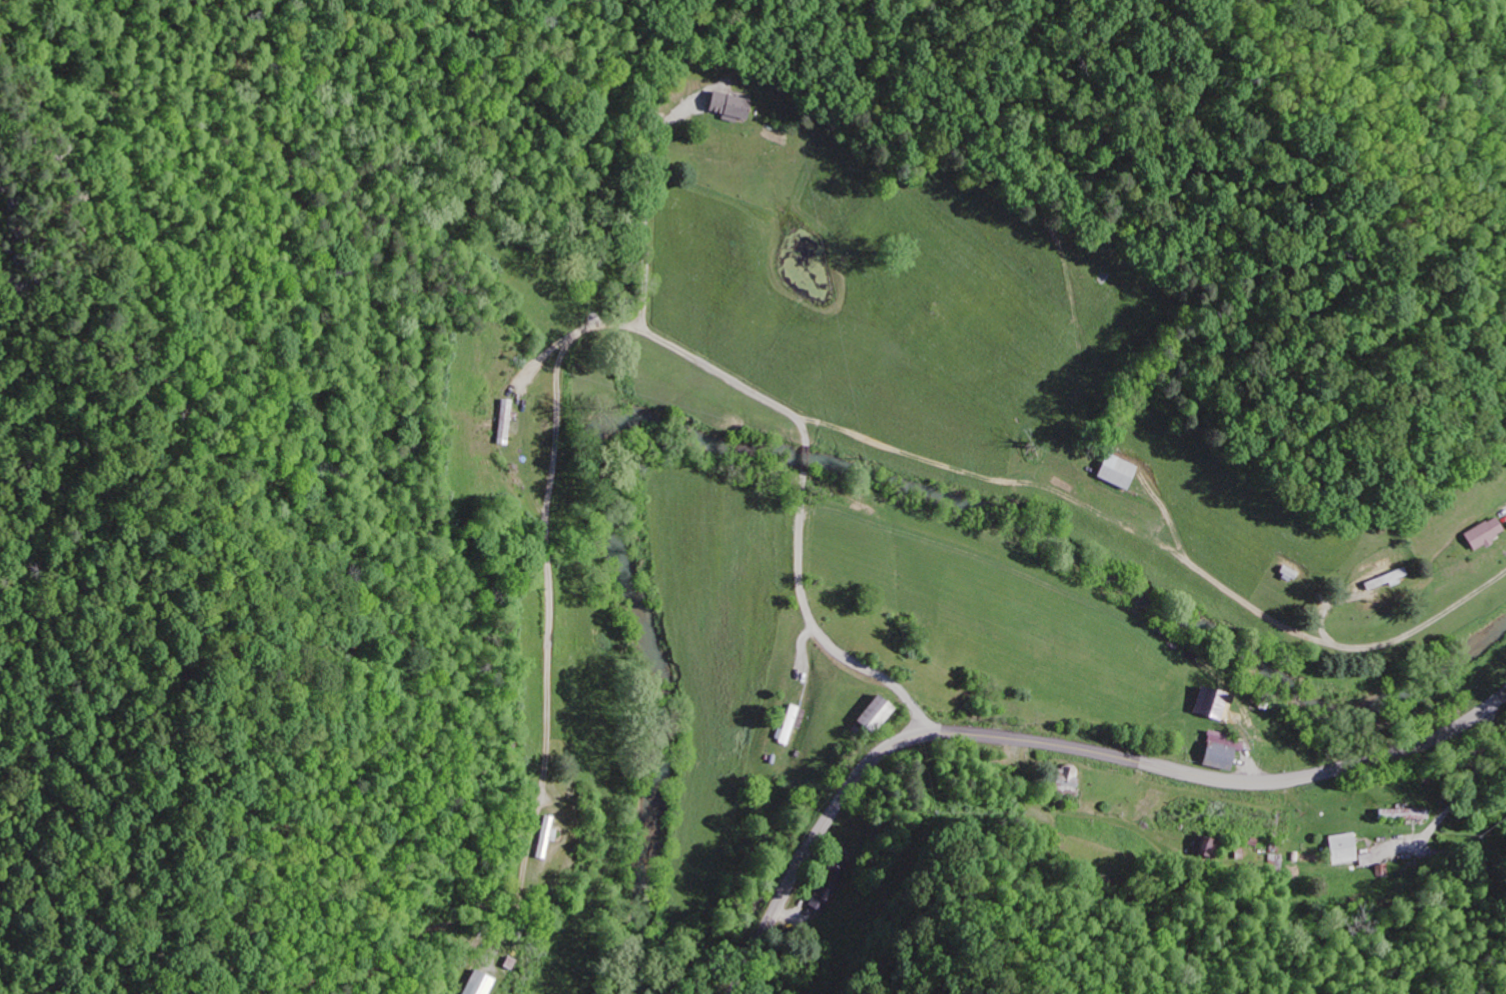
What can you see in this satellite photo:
building: (728, 108)
road: (645, 202)
road: (581, 332)
building: (502, 423)
building: (1119, 473)
building: (1484, 536)
road: (1162, 547)
building: (1391, 579)
building: (873, 715)
building: (790, 726)
road: (1060, 741)
building: (1218, 753)
building: (1068, 782)
road: (1458, 798)
building: (1407, 816)
building: (545, 838)
building: (1341, 851)
building: (827, 888)
building: (479, 984)

